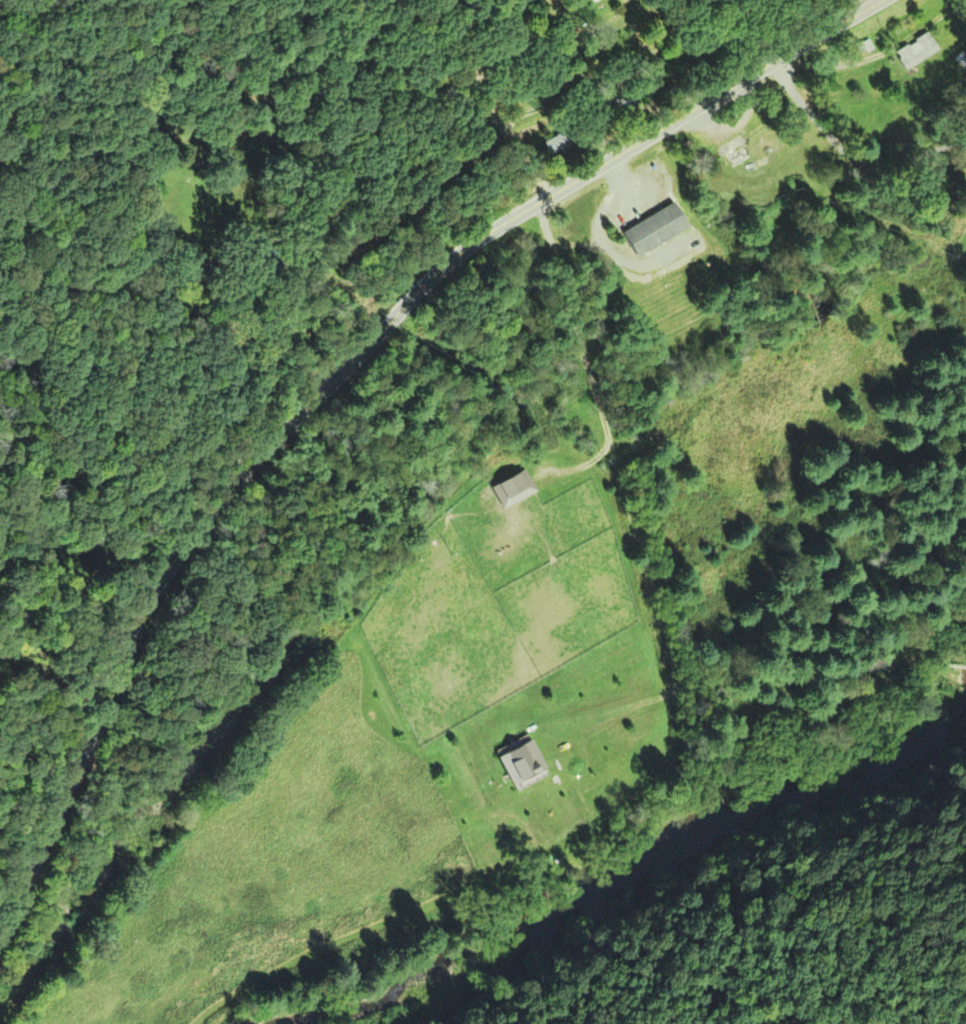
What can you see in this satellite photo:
road: (484, 10)
building: (594, 51)
building: (914, 51)
road: (310, 70)
road: (492, 105)
road: (850, 150)
building: (648, 229)
road: (352, 378)
building: (509, 490)
road: (627, 583)
road: (961, 683)

